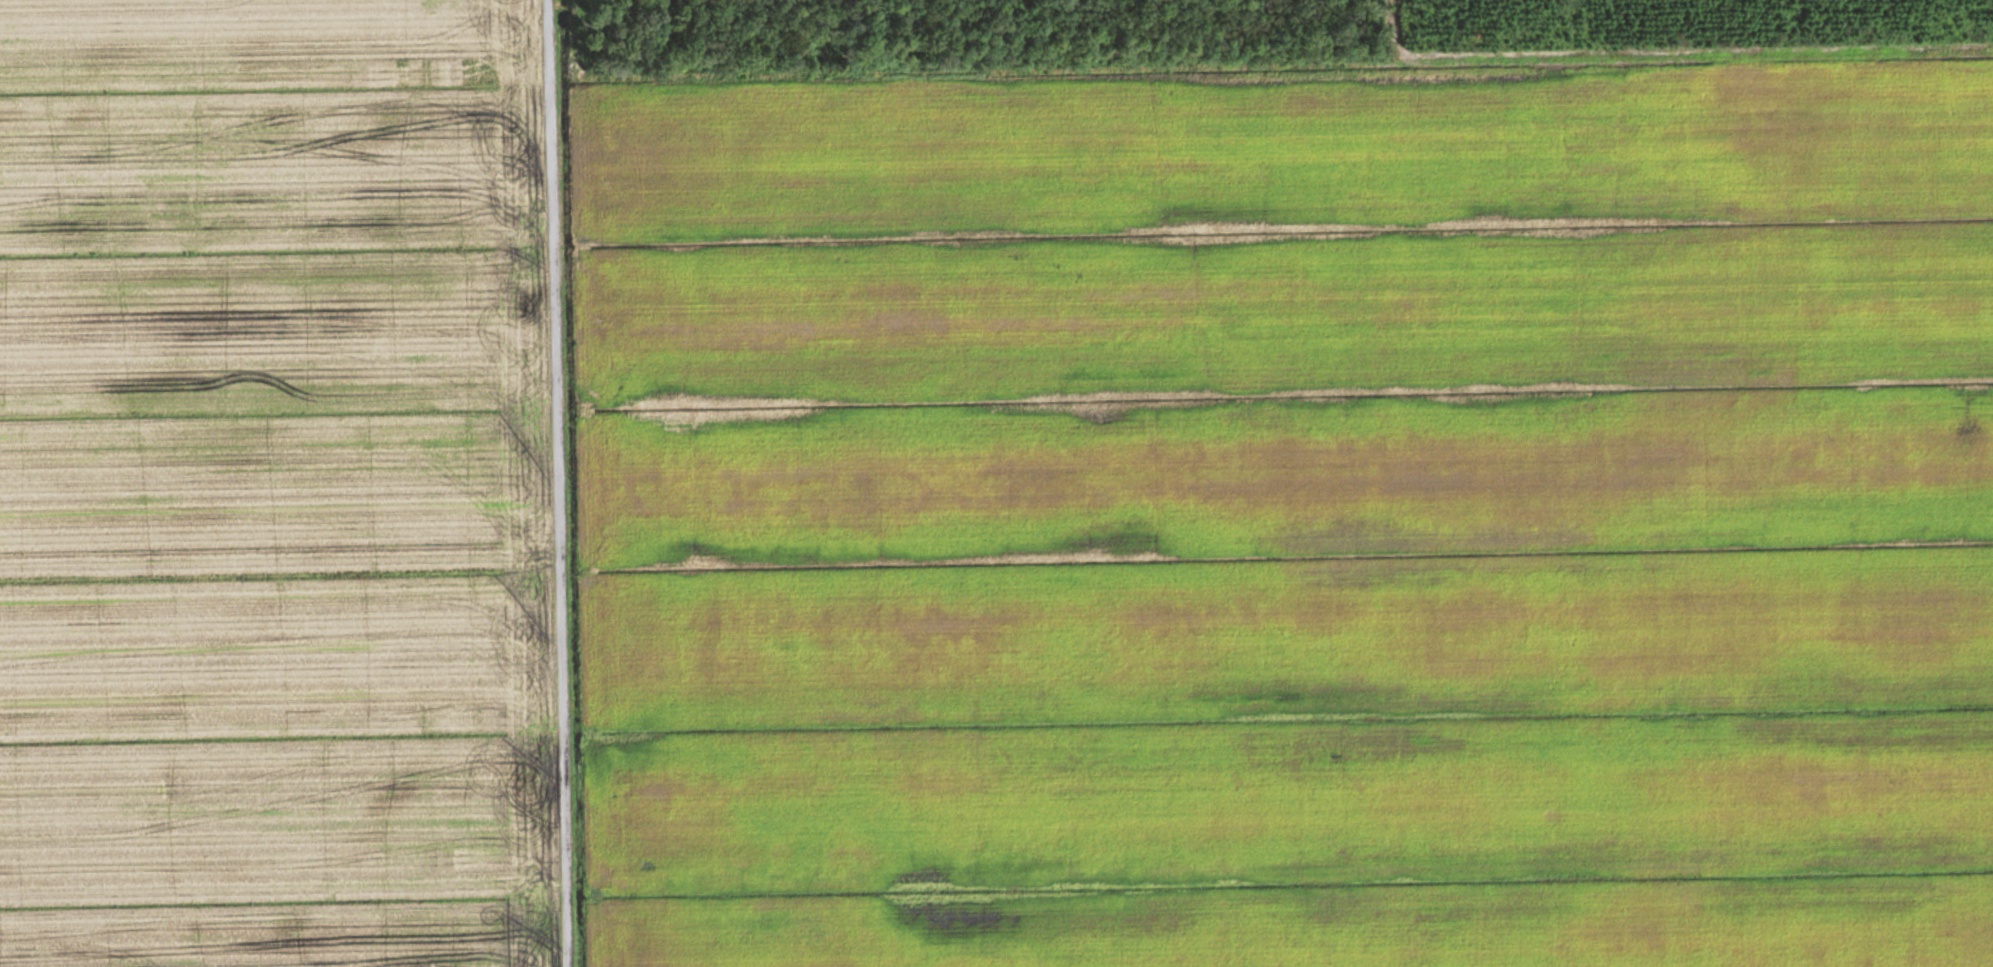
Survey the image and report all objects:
crop: (277, 486)

